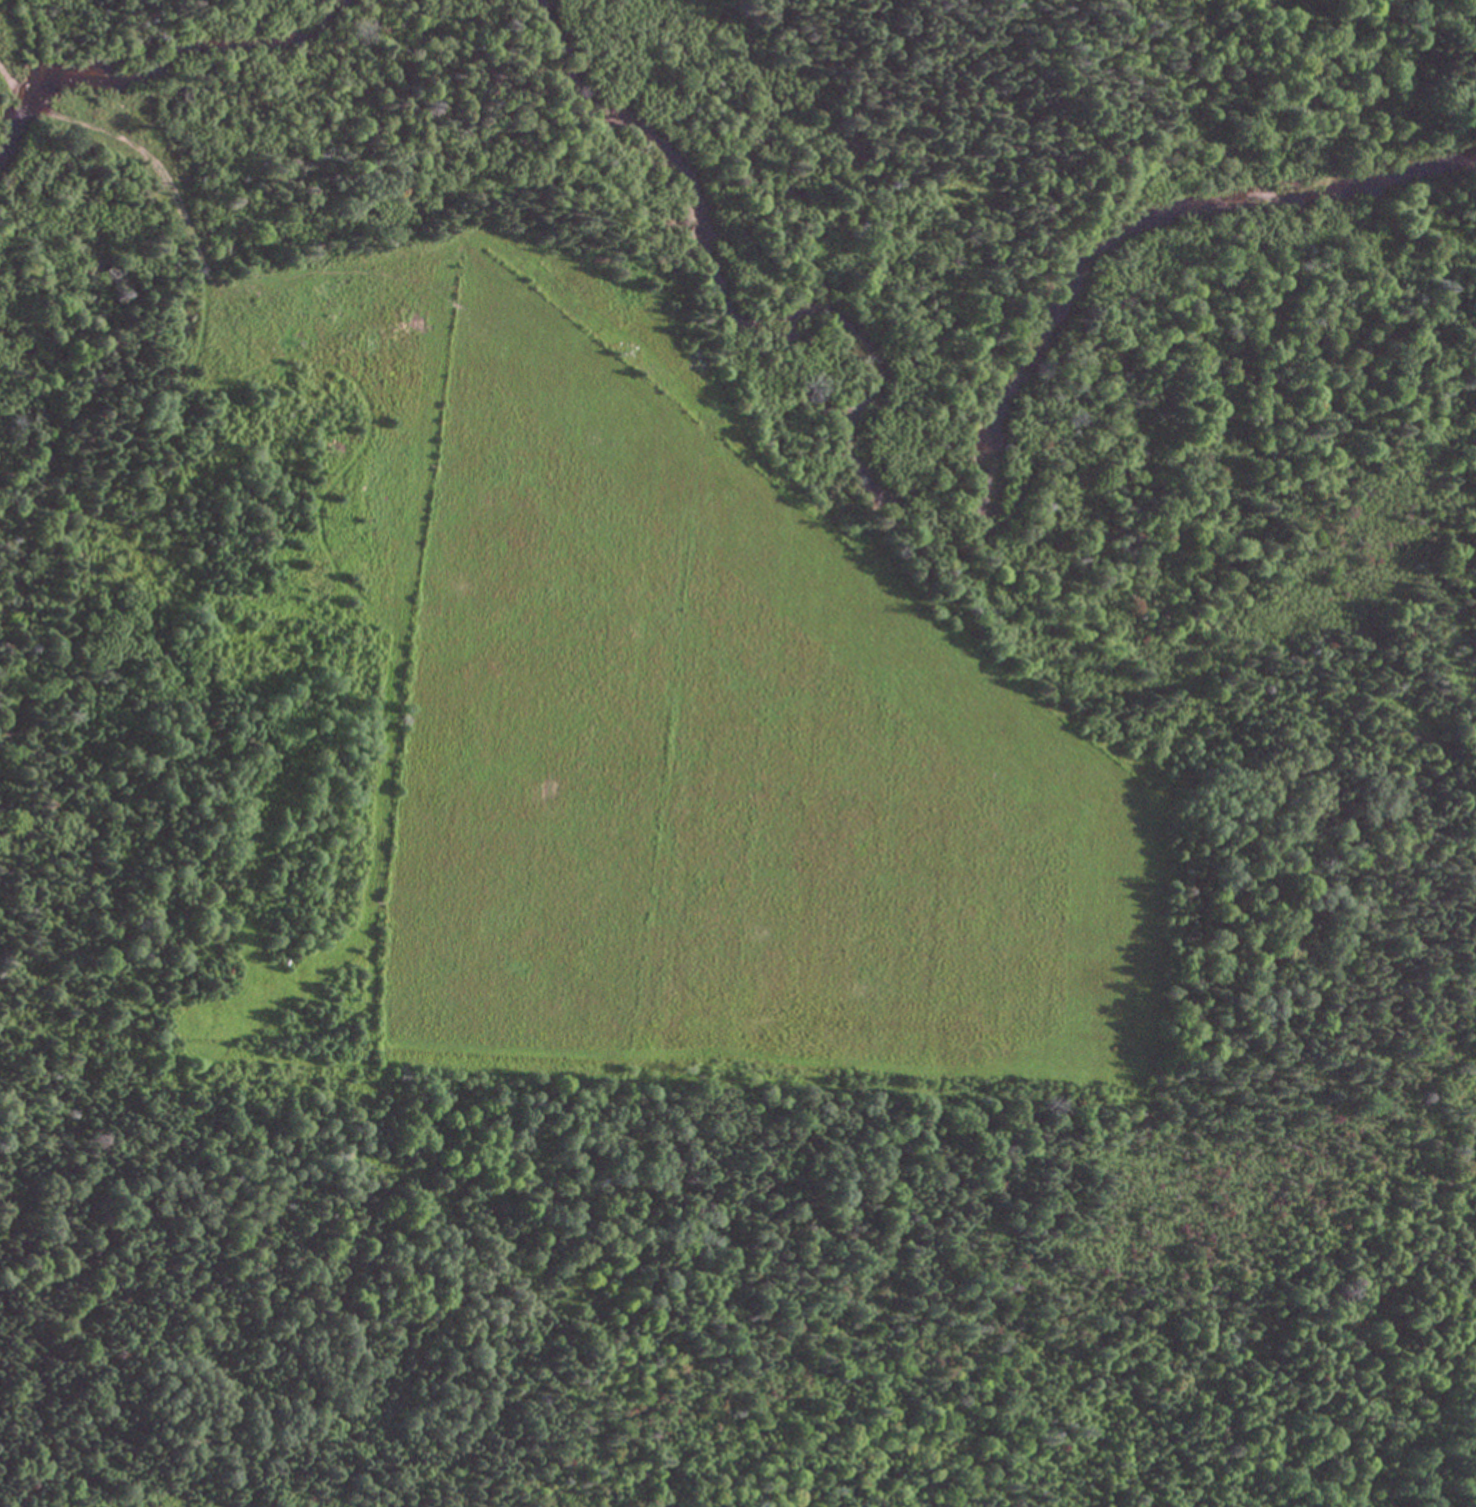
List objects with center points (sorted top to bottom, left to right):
river: (285, 26)
river: (138, 75)
river: (24, 137)
river: (930, 548)

